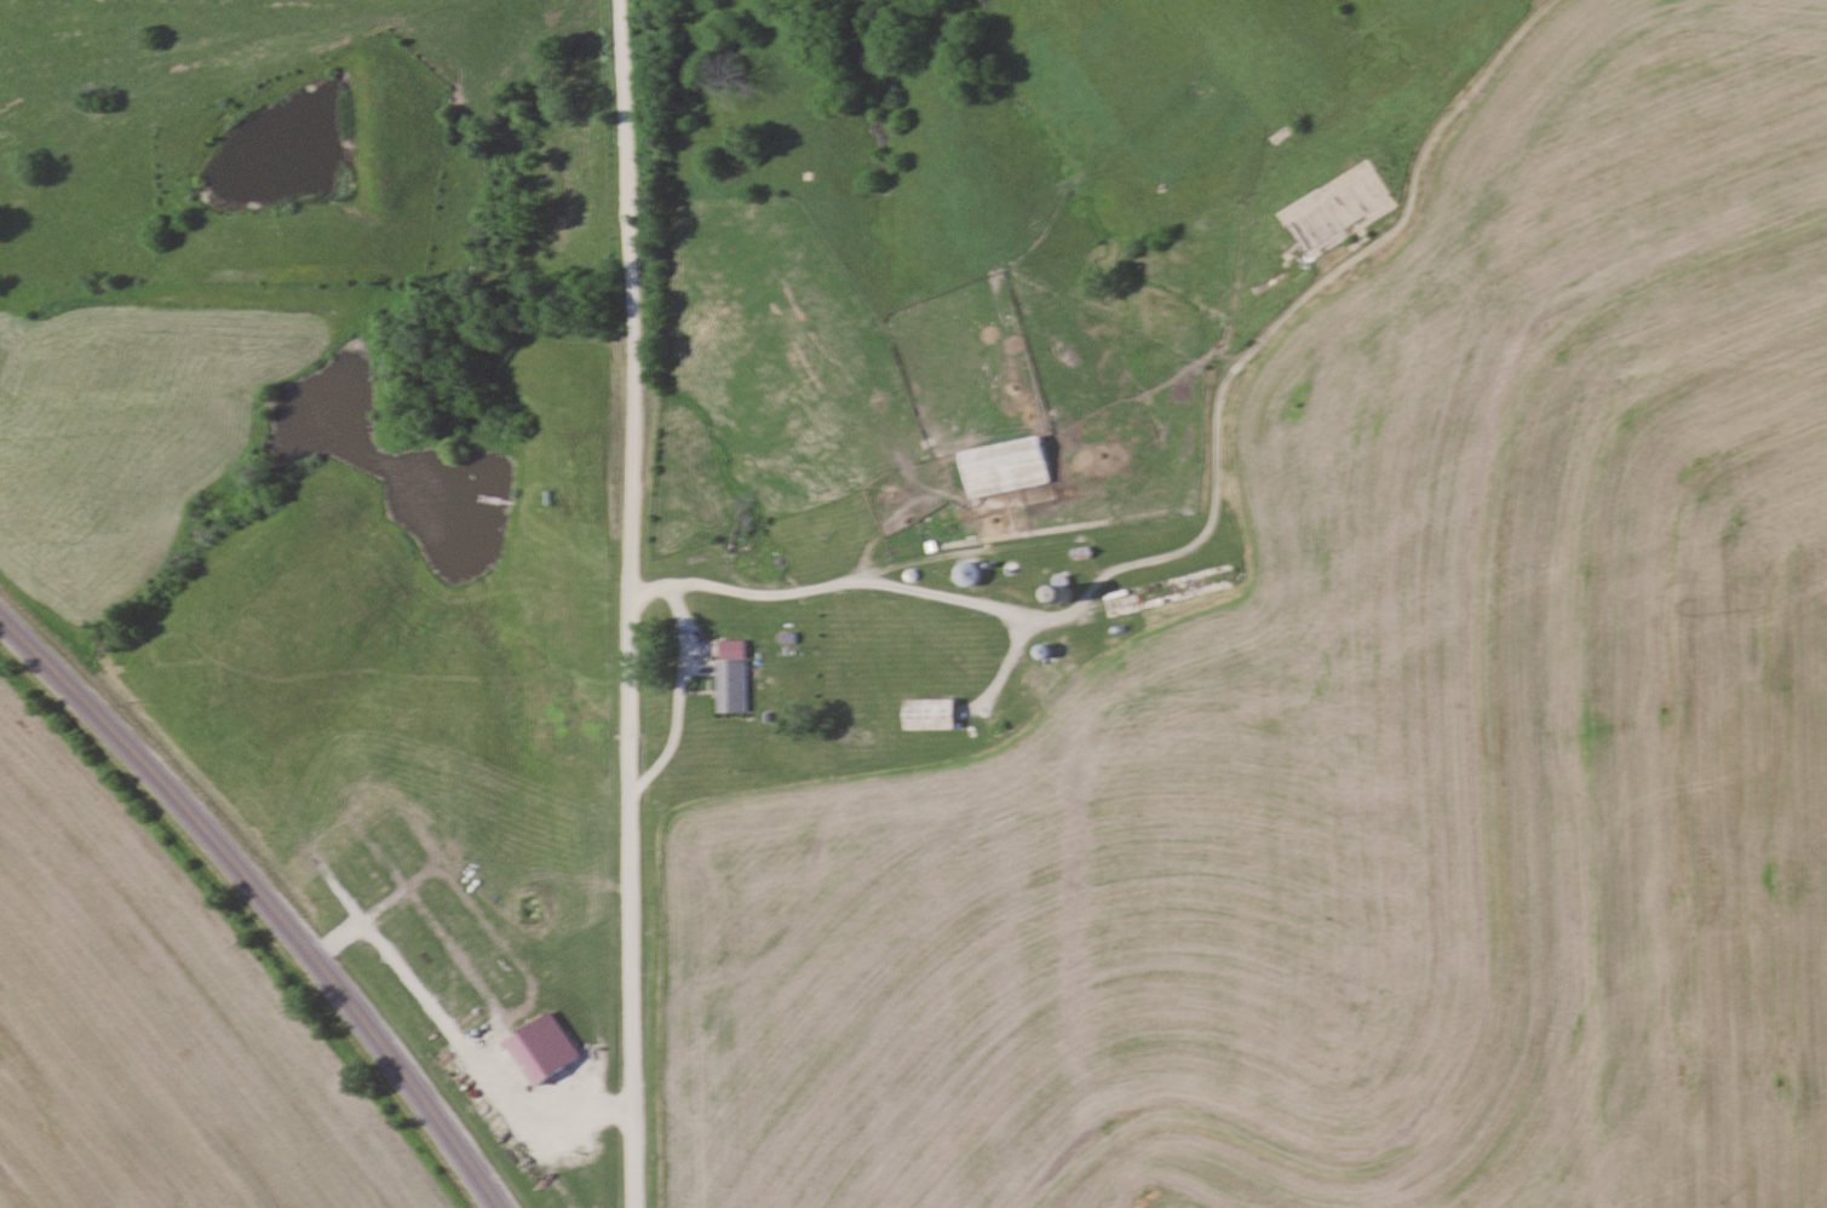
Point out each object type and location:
building: (1002, 466)
building: (967, 574)
building: (1059, 588)
road: (631, 603)
road: (685, 675)
building: (730, 677)
building: (927, 714)
road: (265, 898)
building: (540, 1048)

